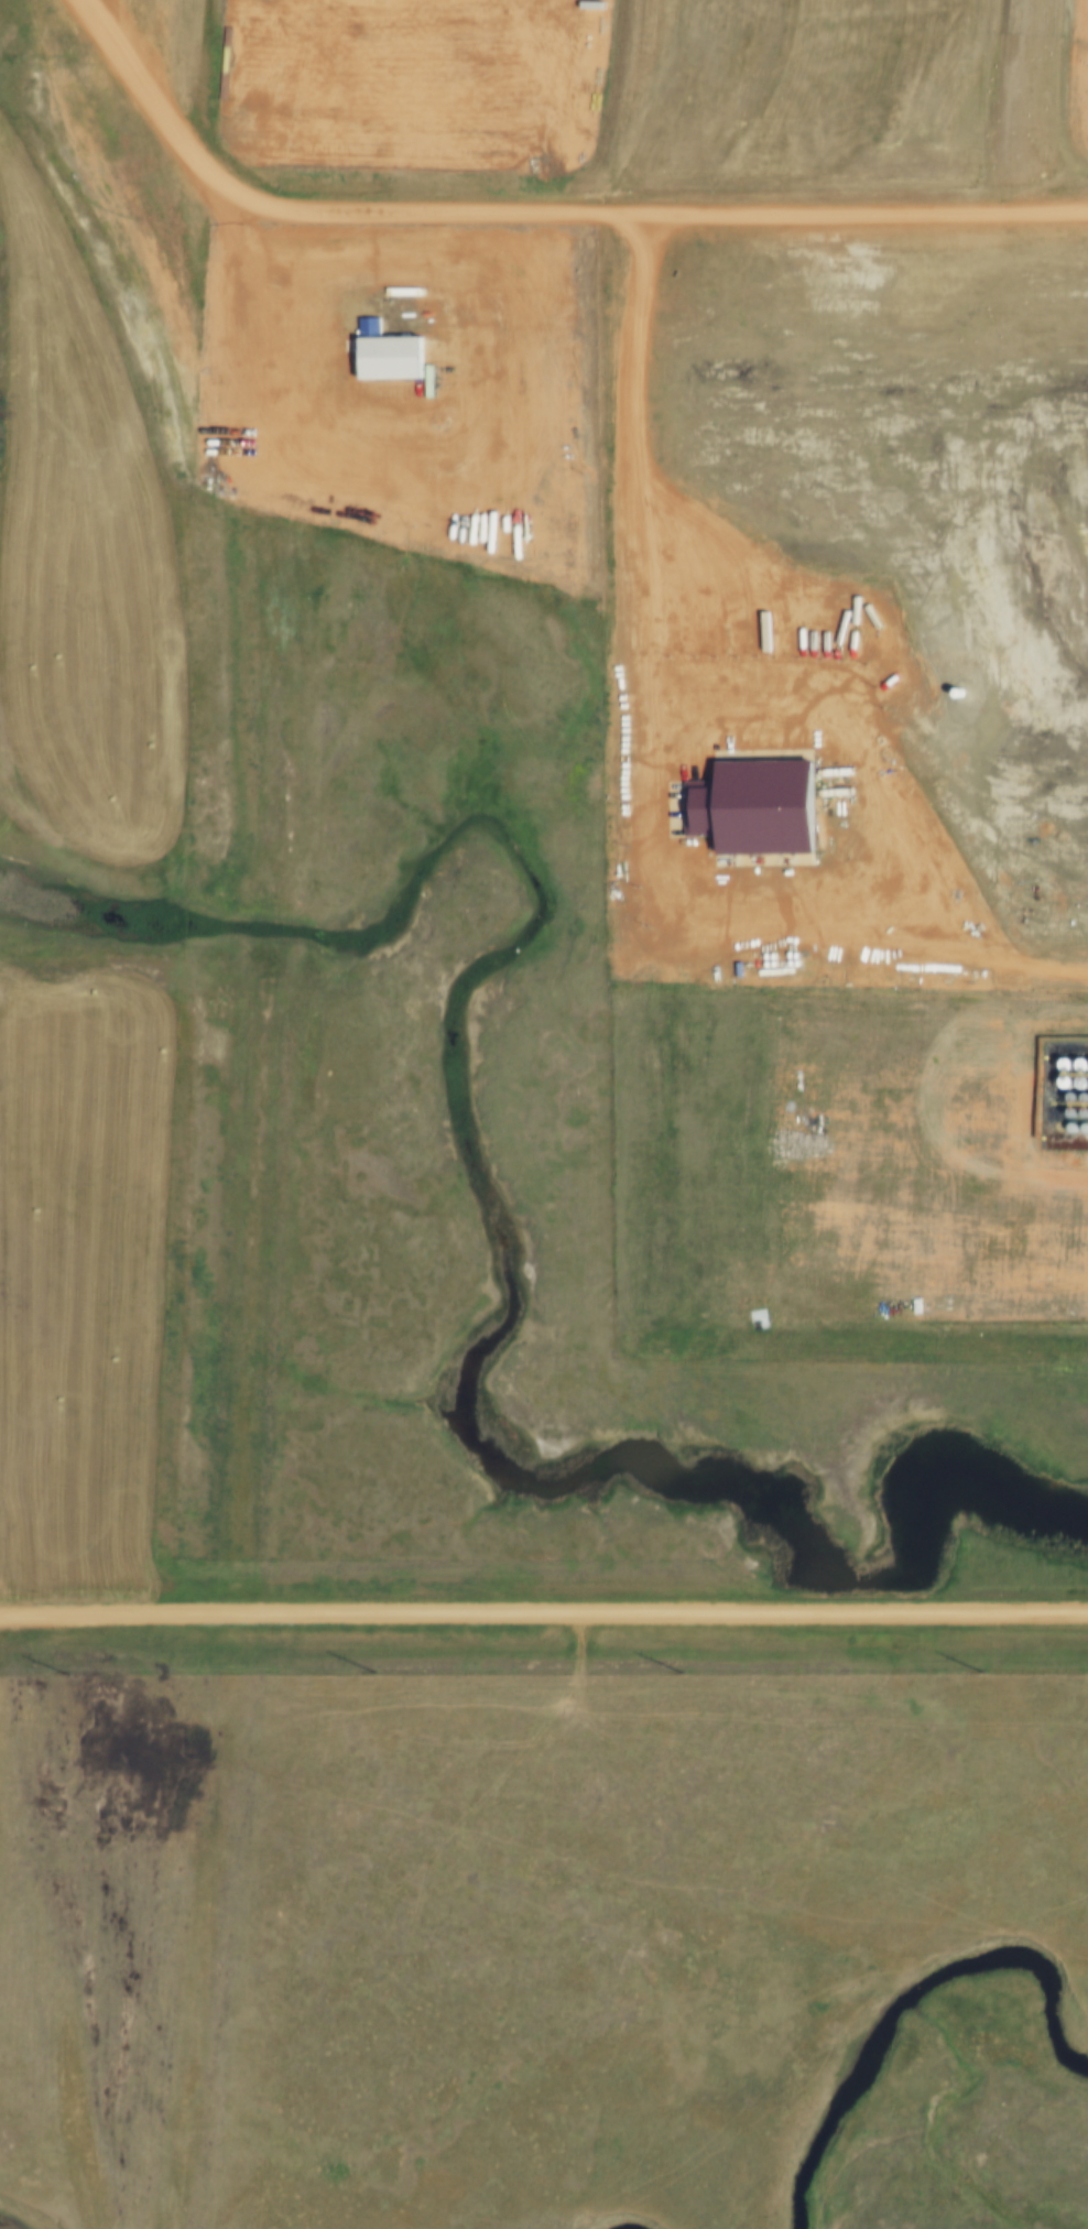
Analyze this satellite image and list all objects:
road: (543, 1614)

